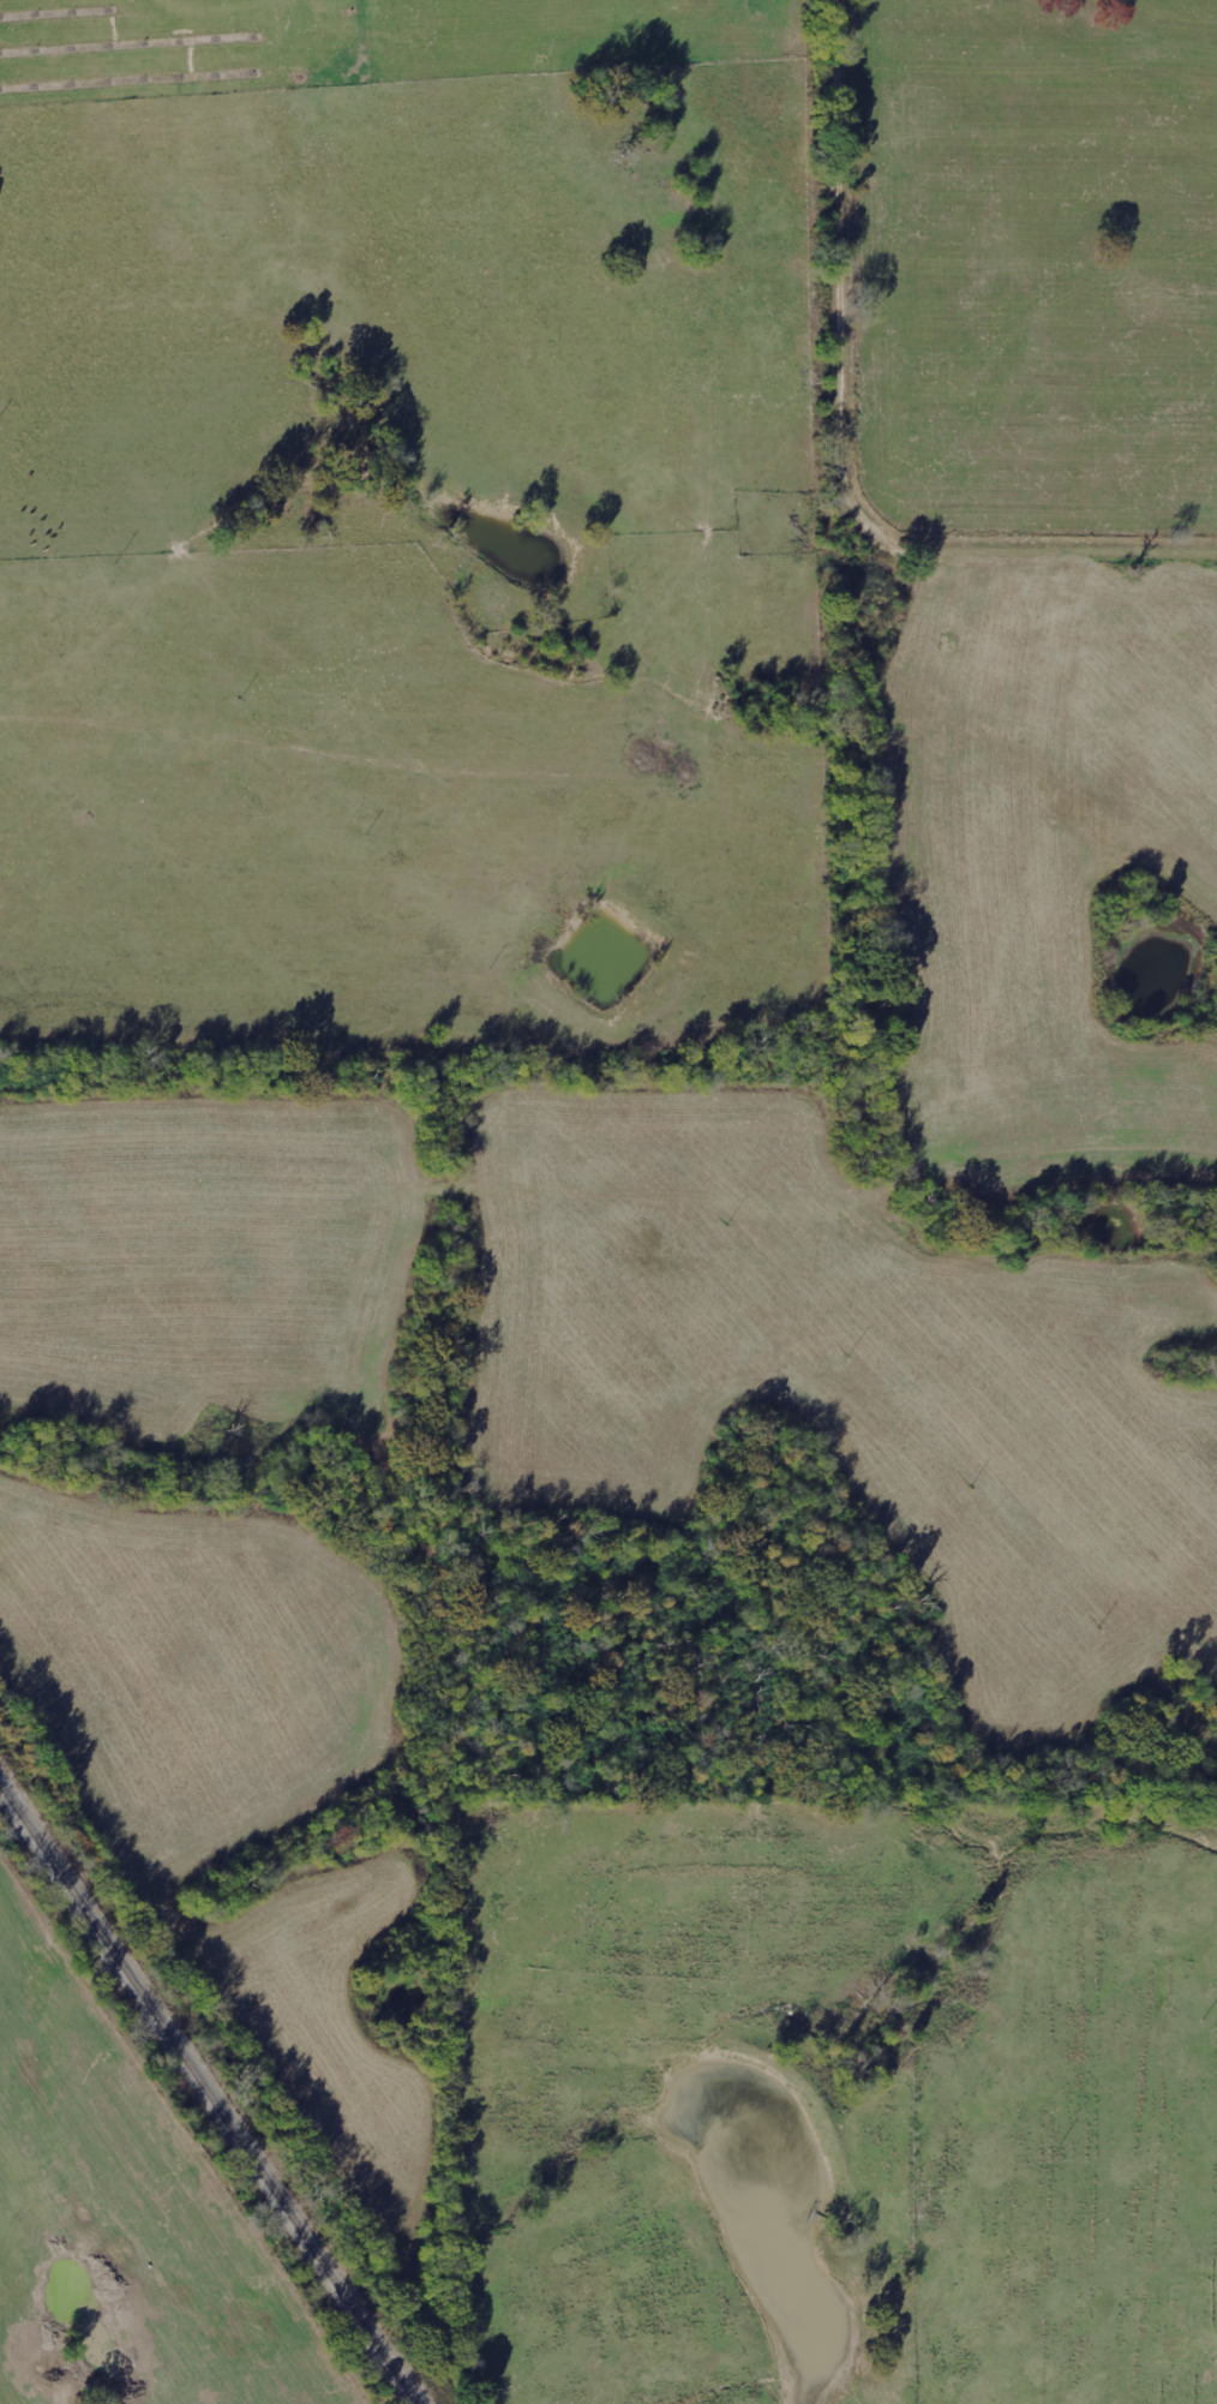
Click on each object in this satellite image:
road: (850, 437)
railway: (206, 2098)

